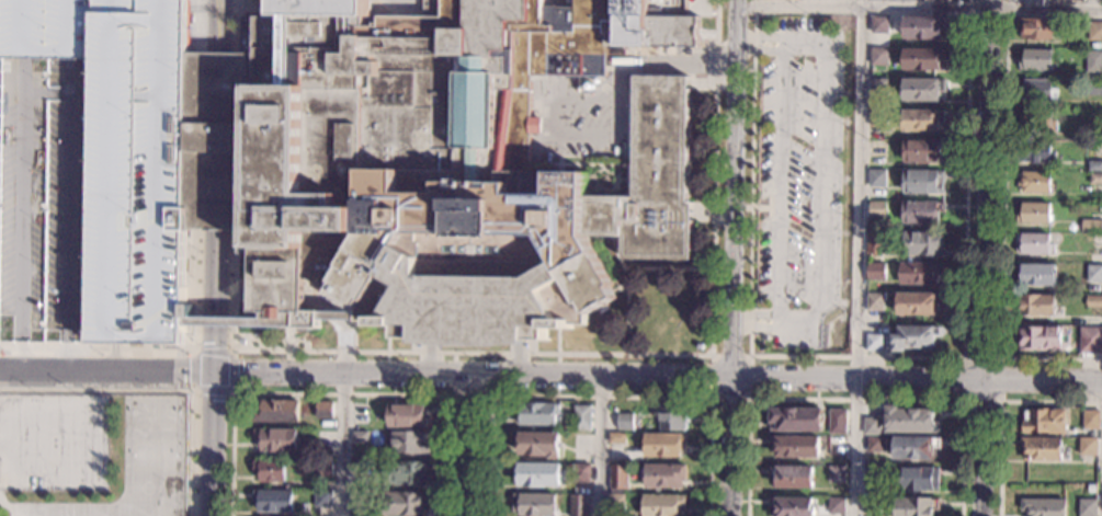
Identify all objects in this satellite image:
building: (941, 0)
building: (1068, 0)
building: (1100, 0)
road: (399, 3)
road: (243, 4)
road: (919, 7)
road: (200, 25)
road: (220, 25)
road: (237, 25)
building: (878, 25)
building: (922, 27)
building: (1036, 28)
building: (1094, 32)
road: (765, 36)
building: (1094, 46)
road: (758, 48)
building: (878, 57)
building: (922, 58)
building: (1036, 59)
building: (1093, 61)
building: (877, 88)
building: (1094, 89)
building: (920, 90)
building: (1036, 91)
building: (877, 118)
building: (921, 119)
building: (1036, 122)
parking lot: (581, 125)
road: (617, 138)
road: (198, 140)
road: (219, 140)
road: (236, 140)
building: (877, 149)
building: (921, 150)
building: (1036, 152)
building: (321, 164)
building: (1094, 167)
parking lot: (93, 169)
building: (876, 179)
building: (1095, 180)
building: (922, 181)
road: (779, 182)
parking lot: (799, 182)
building: (1034, 182)
road: (819, 183)
building: (876, 210)
building: (920, 211)
building: (1033, 214)
building: (1091, 226)
road: (1003, 229)
building: (1095, 240)
building: (875, 243)
building: (922, 244)
building: (1034, 244)
building: (1100, 249)
building: (329, 256)
road: (729, 257)
road: (982, 257)
road: (856, 261)
road: (626, 270)
building: (875, 271)
road: (196, 273)
road: (216, 273)
building: (919, 273)
road: (235, 274)
building: (1035, 274)
building: (1093, 274)
road: (277, 282)
road: (242, 283)
road: (234, 295)
road: (277, 296)
road: (325, 297)
building: (1094, 301)
building: (874, 302)
building: (918, 303)
building: (1035, 305)
road: (314, 306)
road: (349, 313)
road: (330, 314)
road: (751, 316)
road: (195, 320)
road: (215, 321)
road: (234, 321)
road: (759, 328)
road: (353, 335)
building: (916, 337)
building: (1043, 339)
building: (1090, 341)
building: (873, 343)
road: (343, 345)
building: (697, 346)
road: (214, 347)
road: (111, 353)
road: (637, 357)
road: (857, 359)
road: (964, 360)
traffic signals: (214, 370)
road: (550, 379)
road: (158, 392)
road: (231, 392)
road: (341, 392)
road: (475, 398)
road: (601, 400)
road: (750, 400)
road: (855, 402)
road: (1001, 409)
building: (323, 410)
building: (277, 412)
building: (537, 413)
building: (408, 416)
road: (122, 417)
building: (581, 417)
building: (672, 418)
building: (795, 420)
building: (1091, 420)
building: (909, 421)
building: (1043, 421)
road: (38, 422)
building: (626, 422)
building: (837, 422)
building: (871, 426)
building: (360, 437)
building: (616, 438)
building: (276, 439)
road: (212, 443)
building: (411, 443)
parking lot: (53, 444)
building: (538, 444)
road: (341, 445)
building: (662, 445)
building: (836, 445)
building: (874, 445)
building: (795, 446)
road: (470, 447)
building: (914, 447)
building: (1087, 447)
road: (600, 448)
building: (1041, 449)
building: (359, 466)
building: (323, 468)
road: (35, 469)
building: (270, 470)
road: (3, 472)
building: (581, 472)
building: (408, 473)
building: (538, 473)
building: (836, 474)
building: (663, 475)
building: (872, 475)
building: (789, 477)
building: (617, 478)
building: (917, 479)
building: (385, 480)
building: (1090, 488)
building: (322, 498)
building: (273, 501)
building: (359, 501)
building: (616, 502)
building: (402, 504)
building: (533, 504)
building: (578, 505)
building: (662, 505)
building: (792, 506)
building: (834, 506)
building: (871, 506)
building: (916, 506)
road: (4, 507)
building: (1042, 507)
building: (1087, 507)

